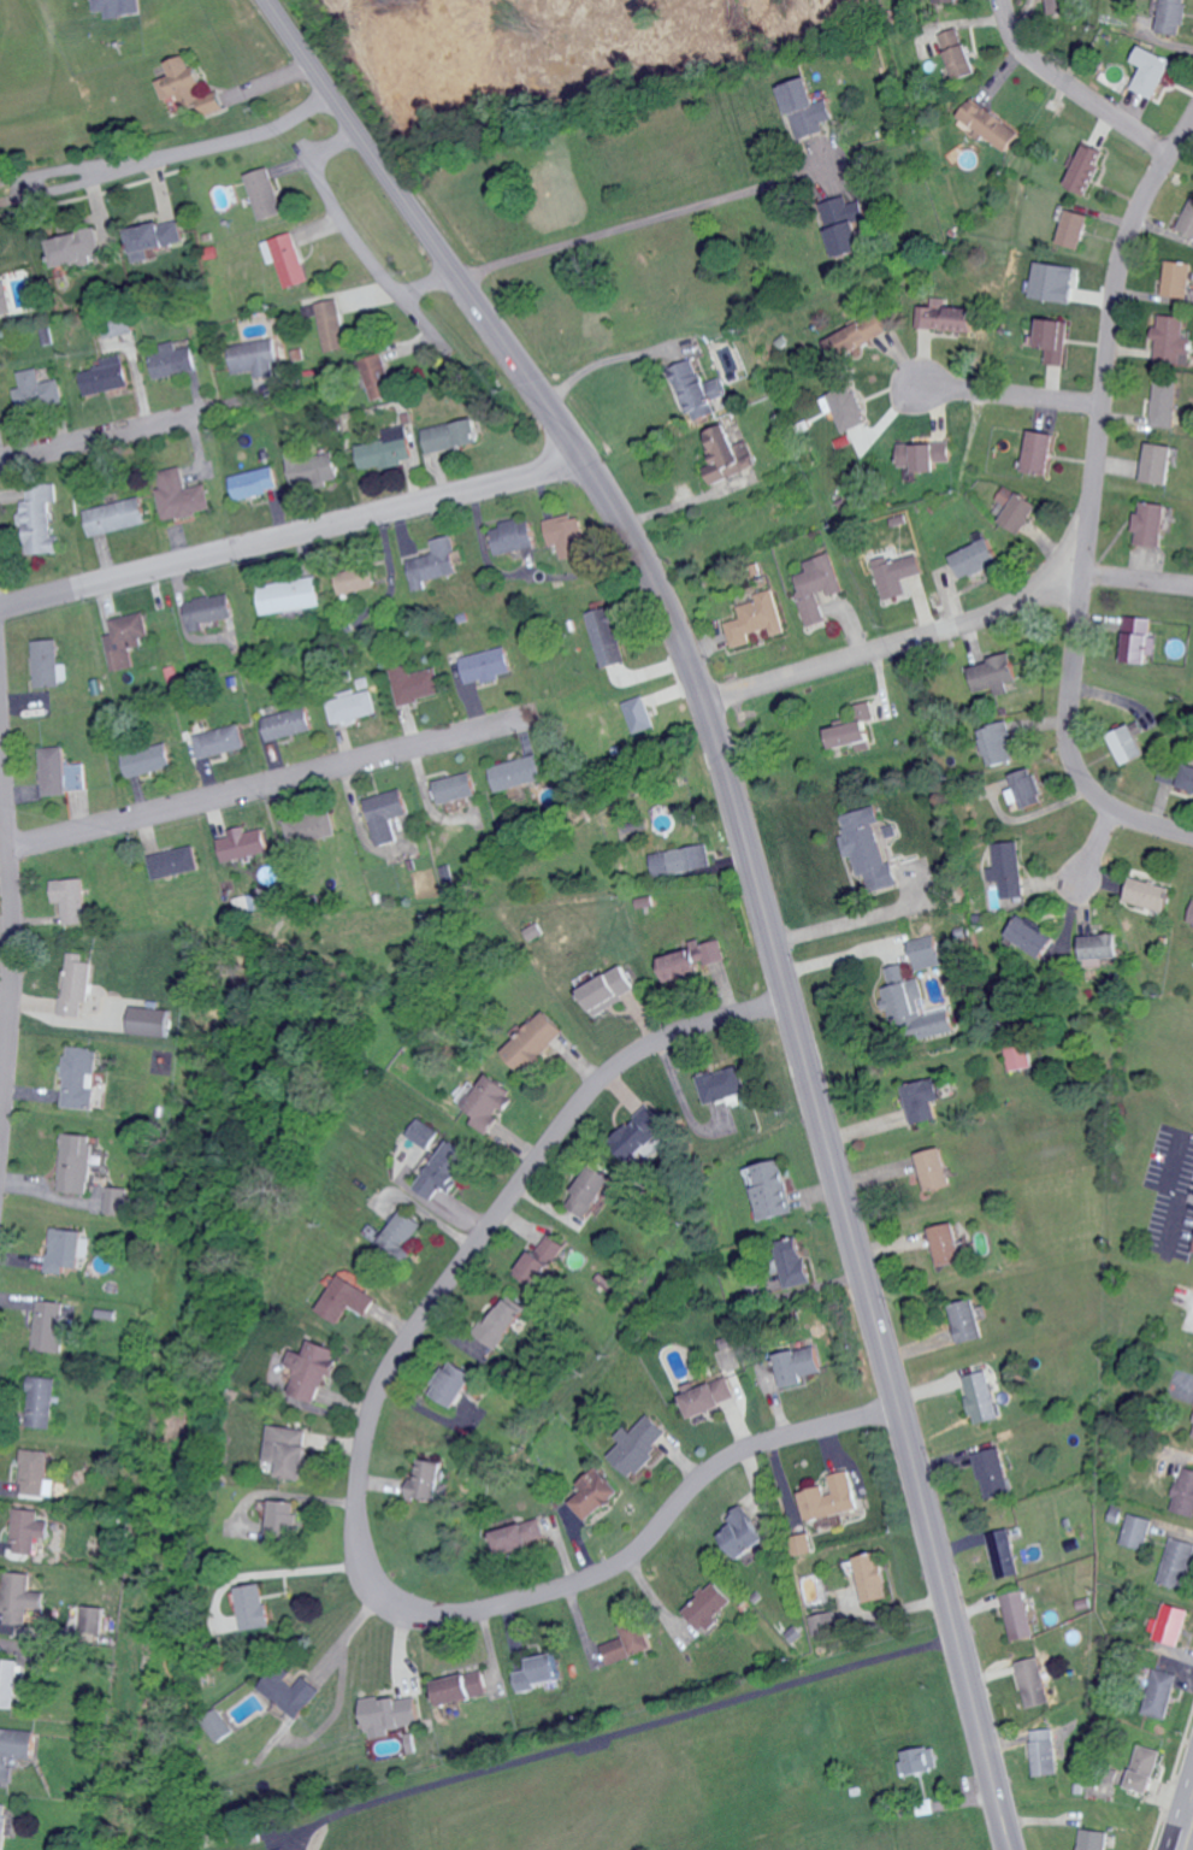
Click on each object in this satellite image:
building: (93, 0)
building: (1061, 6)
building: (117, 7)
building: (1173, 17)
building: (961, 53)
building: (1152, 71)
building: (182, 84)
road: (1067, 90)
building: (217, 106)
building: (809, 108)
building: (992, 124)
road: (171, 157)
building: (1086, 166)
building: (266, 193)
road: (637, 219)
building: (1188, 220)
building: (844, 226)
building: (1075, 229)
road: (350, 236)
building: (155, 237)
building: (77, 247)
building: (288, 259)
building: (1179, 279)
building: (1055, 282)
building: (5, 297)
building: (946, 318)
building: (332, 325)
building: (857, 336)
building: (1055, 340)
building: (1174, 340)
building: (254, 358)
road: (593, 358)
building: (176, 360)
building: (108, 376)
building: (380, 377)
building: (39, 390)
building: (697, 390)
road: (994, 396)
building: (1165, 402)
building: (847, 407)
building: (0, 413)
building: (453, 435)
road: (106, 440)
building: (388, 449)
building: (1041, 452)
building: (927, 454)
building: (730, 455)
building: (1160, 462)
building: (311, 466)
building: (255, 482)
building: (182, 495)
road: (1086, 503)
building: (1017, 508)
building: (117, 515)
building: (40, 518)
building: (1150, 524)
building: (567, 535)
building: (515, 536)
road: (293, 537)
building: (978, 558)
building: (437, 562)
building: (897, 573)
building: (359, 579)
road: (1135, 582)
building: (819, 587)
building: (291, 595)
building: (209, 611)
building: (757, 619)
building: (607, 636)
building: (126, 640)
building: (1139, 640)
road: (893, 647)
building: (49, 664)
building: (486, 666)
building: (996, 674)
building: (417, 684)
building: (352, 707)
building: (638, 714)
building: (288, 723)
building: (855, 727)
building: (220, 741)
building: (1000, 744)
building: (1129, 744)
building: (148, 760)
building: (61, 772)
building: (516, 773)
building: (1173, 773)
building: (1188, 778)
building: (455, 788)
building: (1029, 788)
road: (270, 790)
building: (386, 814)
building: (309, 829)
building: (242, 843)
building: (869, 848)
road: (1091, 858)
building: (681, 860)
building: (175, 862)
building: (1009, 868)
road: (757, 872)
building: (1151, 894)
building: (73, 900)
building: (644, 901)
road: (868, 913)
building: (1192, 918)
road: (14, 926)
building: (532, 931)
building: (1032, 936)
building: (1100, 947)
building: (926, 951)
road: (841, 953)
building: (693, 960)
building: (586, 980)
building: (78, 985)
building: (609, 990)
building: (903, 996)
building: (149, 1021)
building: (937, 1027)
building: (536, 1042)
building: (1017, 1055)
building: (79, 1078)
building: (724, 1085)
building: (923, 1101)
building: (490, 1102)
building: (639, 1130)
building: (423, 1132)
building: (76, 1161)
building: (935, 1167)
building: (447, 1168)
road: (1173, 1172)
building: (591, 1189)
building: (116, 1200)
building: (403, 1231)
building: (947, 1242)
building: (67, 1248)
building: (541, 1259)
building: (796, 1265)
building: (348, 1298)
building: (968, 1319)
building: (500, 1321)
building: (49, 1324)
building: (798, 1363)
building: (312, 1368)
building: (454, 1381)
building: (710, 1396)
building: (981, 1396)
building: (42, 1401)
building: (639, 1443)
building: (289, 1449)
building: (35, 1471)
building: (991, 1471)
building: (426, 1479)
road: (352, 1487)
building: (1185, 1491)
building: (592, 1492)
building: (832, 1496)
building: (280, 1520)
building: (29, 1530)
building: (1136, 1530)
building: (744, 1532)
building: (519, 1533)
building: (801, 1543)
building: (1002, 1553)
building: (1177, 1562)
road: (270, 1573)
building: (873, 1575)
building: (22, 1597)
building: (710, 1604)
building: (254, 1606)
building: (1017, 1614)
building: (93, 1618)
building: (822, 1622)
building: (1170, 1622)
building: (630, 1640)
building: (538, 1672)
building: (8, 1681)
building: (1033, 1681)
building: (461, 1686)
building: (291, 1690)
building: (1160, 1692)
building: (391, 1714)
building: (217, 1725)
road: (615, 1730)
building: (14, 1748)
building: (1044, 1750)
building: (920, 1758)
building: (1145, 1768)
building: (4, 1824)
road: (1185, 1824)
building: (1094, 1839)

